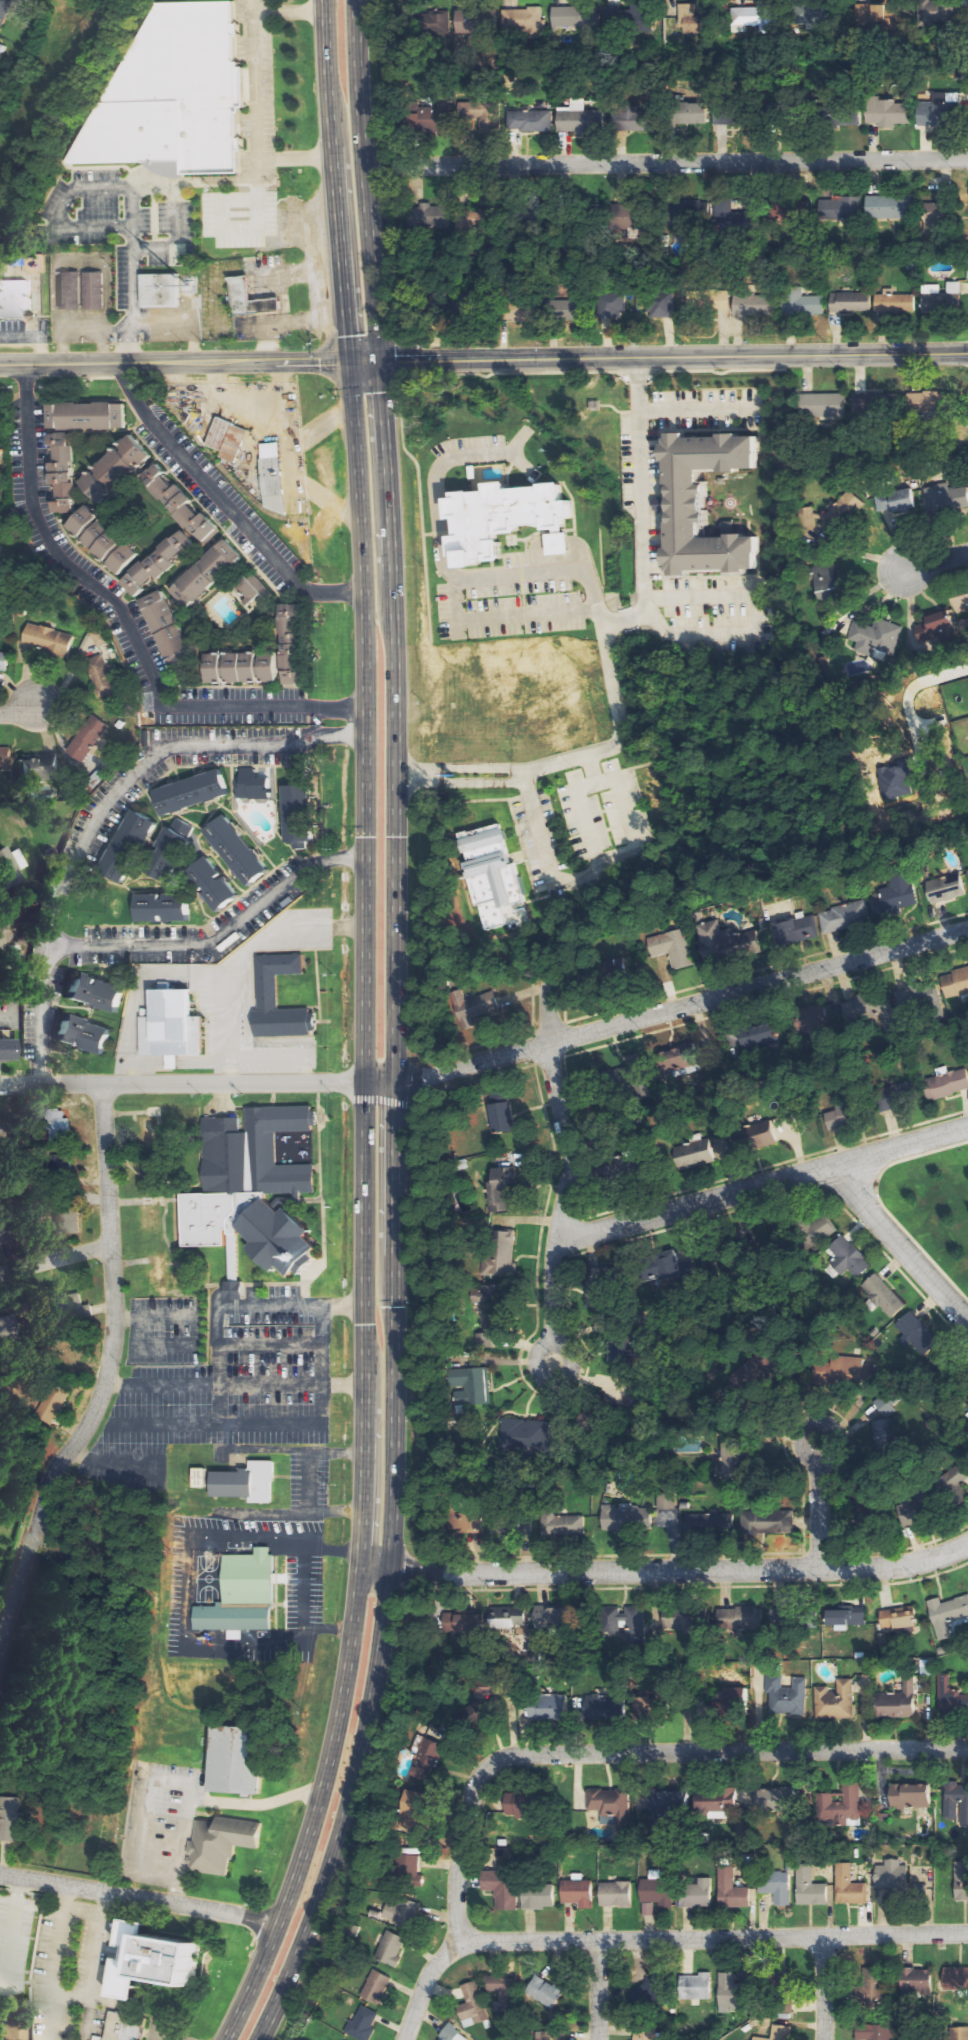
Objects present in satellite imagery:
building: (4, 11)
building: (629, 15)
building: (807, 15)
building: (567, 17)
building: (753, 17)
building: (689, 20)
building: (526, 21)
building: (468, 22)
building: (437, 25)
building: (172, 95)
building: (476, 110)
building: (930, 111)
building: (887, 112)
building: (690, 113)
building: (721, 115)
building: (846, 117)
building: (432, 118)
building: (580, 118)
building: (633, 119)
building: (531, 120)
road: (666, 162)
building: (167, 169)
building: (889, 207)
building: (840, 208)
building: (687, 210)
building: (787, 213)
building: (620, 214)
building: (935, 214)
building: (434, 216)
building: (732, 217)
building: (71, 290)
building: (94, 290)
building: (164, 290)
building: (942, 297)
building: (14, 298)
building: (248, 298)
building: (718, 300)
building: (803, 302)
building: (850, 302)
building: (895, 302)
building: (753, 303)
building: (663, 304)
building: (614, 305)
building: (567, 309)
road: (484, 358)
traffic signals: (350, 360)
traffic signals: (379, 360)
building: (872, 401)
building: (822, 405)
building: (926, 405)
building: (84, 414)
building: (227, 439)
building: (112, 468)
building: (61, 471)
building: (272, 477)
building: (948, 497)
building: (176, 502)
building: (896, 502)
road: (223, 504)
building: (707, 506)
road: (640, 509)
building: (830, 512)
building: (500, 515)
building: (101, 539)
building: (557, 544)
road: (552, 548)
building: (156, 562)
road: (930, 562)
building: (203, 573)
building: (827, 582)
building: (247, 585)
building: (961, 606)
road: (592, 608)
road: (126, 618)
road: (500, 619)
building: (166, 629)
building: (874, 636)
building: (49, 639)
building: (265, 654)
building: (5, 661)
building: (855, 668)
building: (103, 676)
road: (16, 709)
building: (89, 737)
building: (5, 759)
building: (38, 767)
building: (247, 785)
building: (188, 793)
road: (102, 806)
building: (294, 817)
road: (538, 829)
building: (124, 846)
building: (165, 852)
building: (232, 852)
building: (13, 865)
building: (967, 870)
building: (494, 879)
building: (208, 886)
building: (943, 888)
building: (897, 889)
building: (159, 909)
building: (842, 916)
building: (5, 920)
building: (796, 930)
road: (215, 932)
building: (724, 935)
building: (672, 948)
building: (614, 967)
building: (955, 983)
building: (89, 990)
building: (264, 992)
building: (926, 996)
building: (474, 1007)
building: (869, 1009)
road: (667, 1012)
building: (168, 1026)
road: (396, 1029)
road: (365, 1030)
building: (78, 1032)
building: (760, 1037)
building: (7, 1048)
building: (681, 1057)
traffic signals: (365, 1082)
traffic signals: (396, 1082)
road: (182, 1083)
building: (946, 1084)
building: (891, 1097)
building: (501, 1117)
building: (836, 1119)
building: (58, 1125)
building: (757, 1135)
building: (692, 1153)
road: (570, 1165)
building: (622, 1167)
building: (243, 1172)
road: (761, 1184)
building: (500, 1190)
building: (68, 1220)
building: (818, 1227)
building: (276, 1238)
road: (898, 1242)
building: (501, 1254)
building: (848, 1257)
road: (55, 1258)
building: (665, 1266)
building: (233, 1290)
building: (883, 1295)
building: (65, 1307)
building: (487, 1311)
road: (216, 1328)
building: (917, 1332)
building: (68, 1358)
building: (848, 1372)
road: (109, 1377)
building: (471, 1385)
building: (51, 1404)
building: (881, 1436)
building: (200, 1478)
building: (956, 1480)
building: (240, 1482)
building: (667, 1501)
road: (820, 1507)
building: (909, 1513)
building: (626, 1518)
building: (696, 1520)
building: (468, 1524)
building: (564, 1525)
building: (513, 1526)
road: (664, 1571)
building: (235, 1592)
building: (948, 1615)
building: (845, 1617)
building: (549, 1618)
building: (740, 1618)
building: (897, 1619)
building: (508, 1620)
building: (682, 1620)
building: (460, 1622)
building: (625, 1622)
building: (787, 1696)
building: (951, 1696)
building: (733, 1698)
building: (836, 1701)
building: (897, 1702)
building: (547, 1707)
building: (599, 1707)
building: (432, 1749)
road: (633, 1754)
building: (239, 1756)
building: (909, 1796)
building: (775, 1800)
building: (670, 1801)
building: (715, 1801)
building: (956, 1802)
building: (518, 1805)
building: (610, 1805)
building: (840, 1805)
building: (414, 1812)
building: (10, 1818)
building: (217, 1840)
building: (411, 1872)
building: (894, 1875)
building: (961, 1881)
building: (777, 1886)
building: (810, 1887)
building: (850, 1887)
building: (502, 1888)
building: (733, 1890)
building: (578, 1891)
building: (616, 1893)
building: (698, 1894)
road: (139, 1897)
building: (538, 1897)
building: (401, 1912)
road: (713, 1938)
building: (391, 1949)
building: (148, 1961)
road: (88, 1965)
building: (954, 1978)
building: (917, 1982)
building: (699, 1986)
building: (376, 1987)
road: (421, 1987)
building: (873, 1987)
road: (822, 1988)
road: (599, 1990)
building: (545, 1991)
building: (729, 1991)
building: (474, 2005)
building: (364, 2024)
building: (126, 2027)
building: (451, 2032)
building: (645, 2032)
building: (874, 2032)
building: (779, 2033)
building: (957, 2033)
building: (543, 2036)

